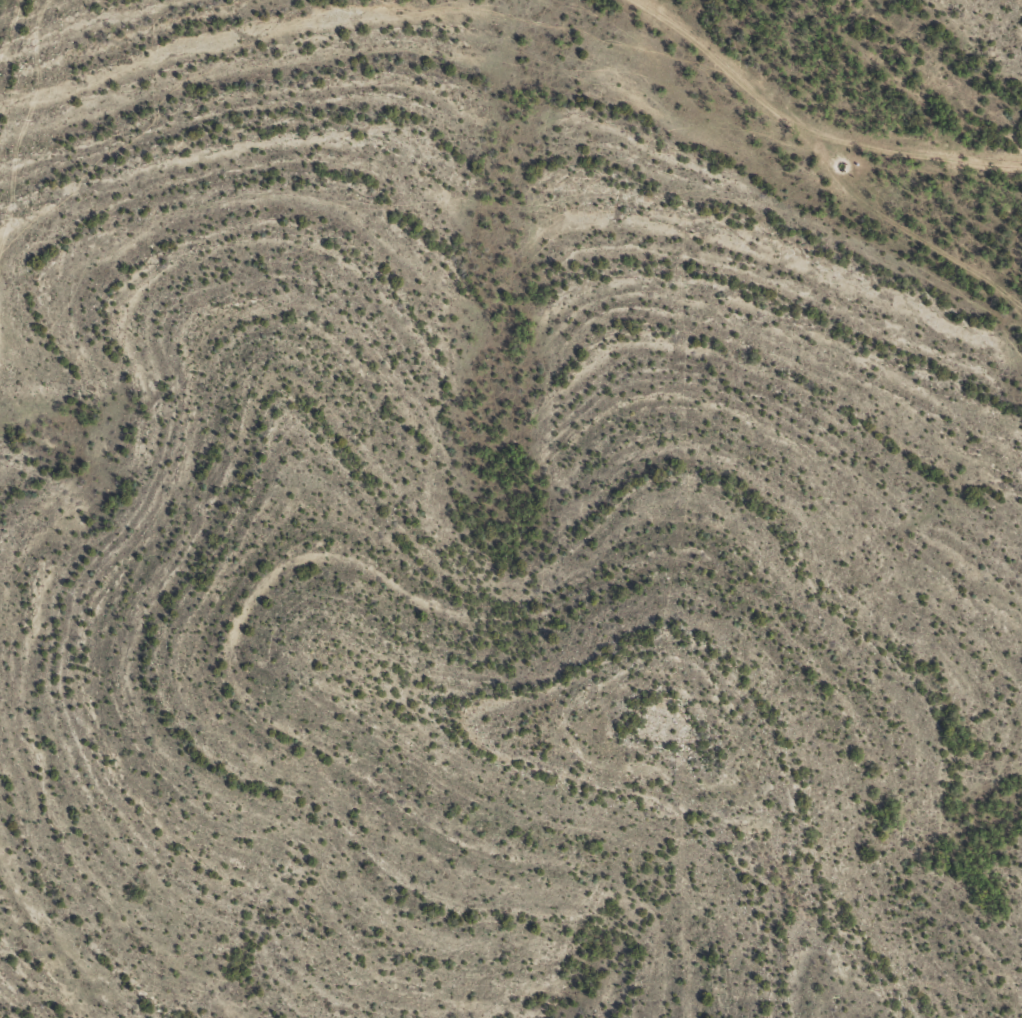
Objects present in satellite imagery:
road: (780, 148)

